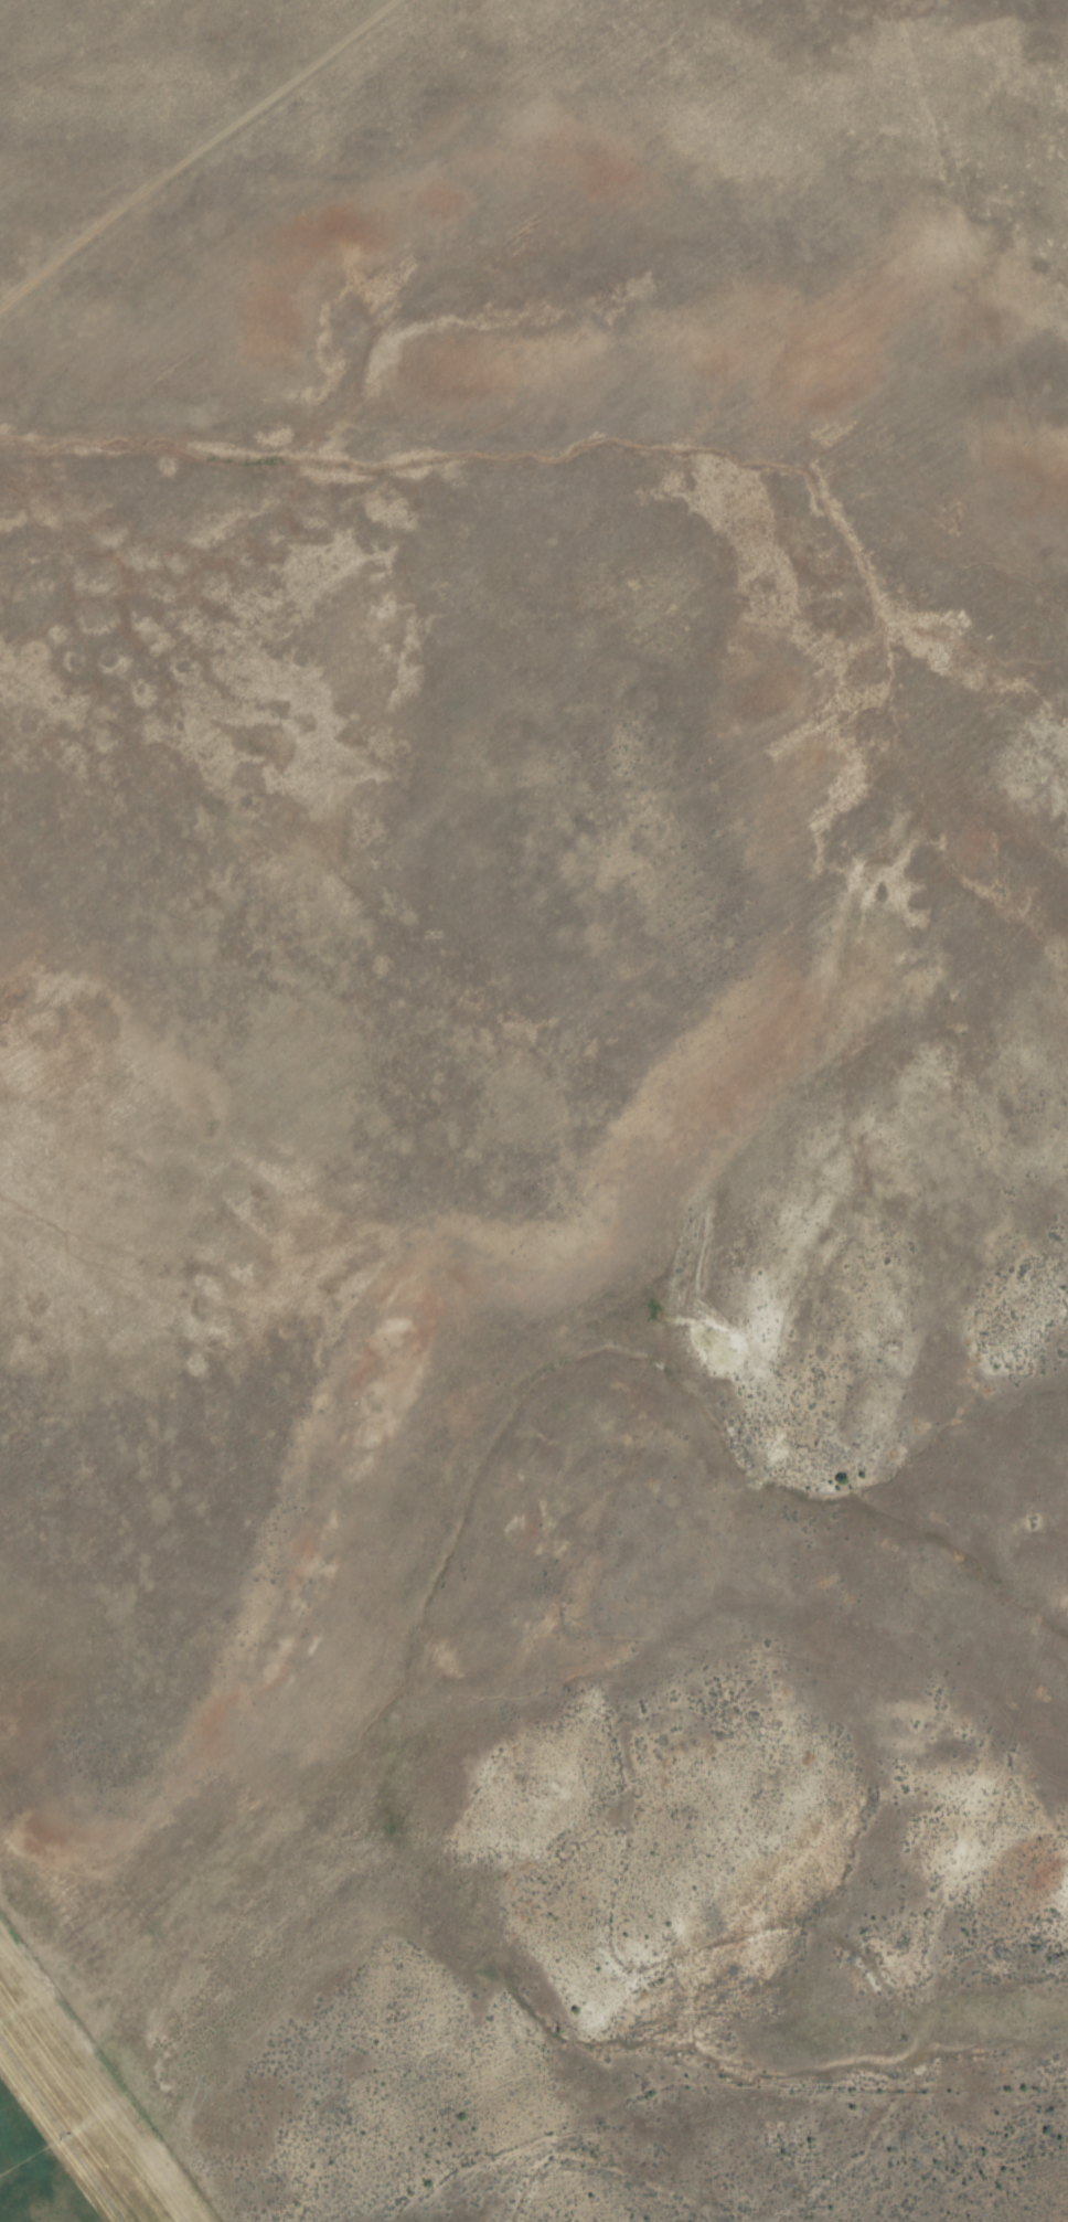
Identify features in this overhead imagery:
road: (130, 36)
crop: (78, 2114)

